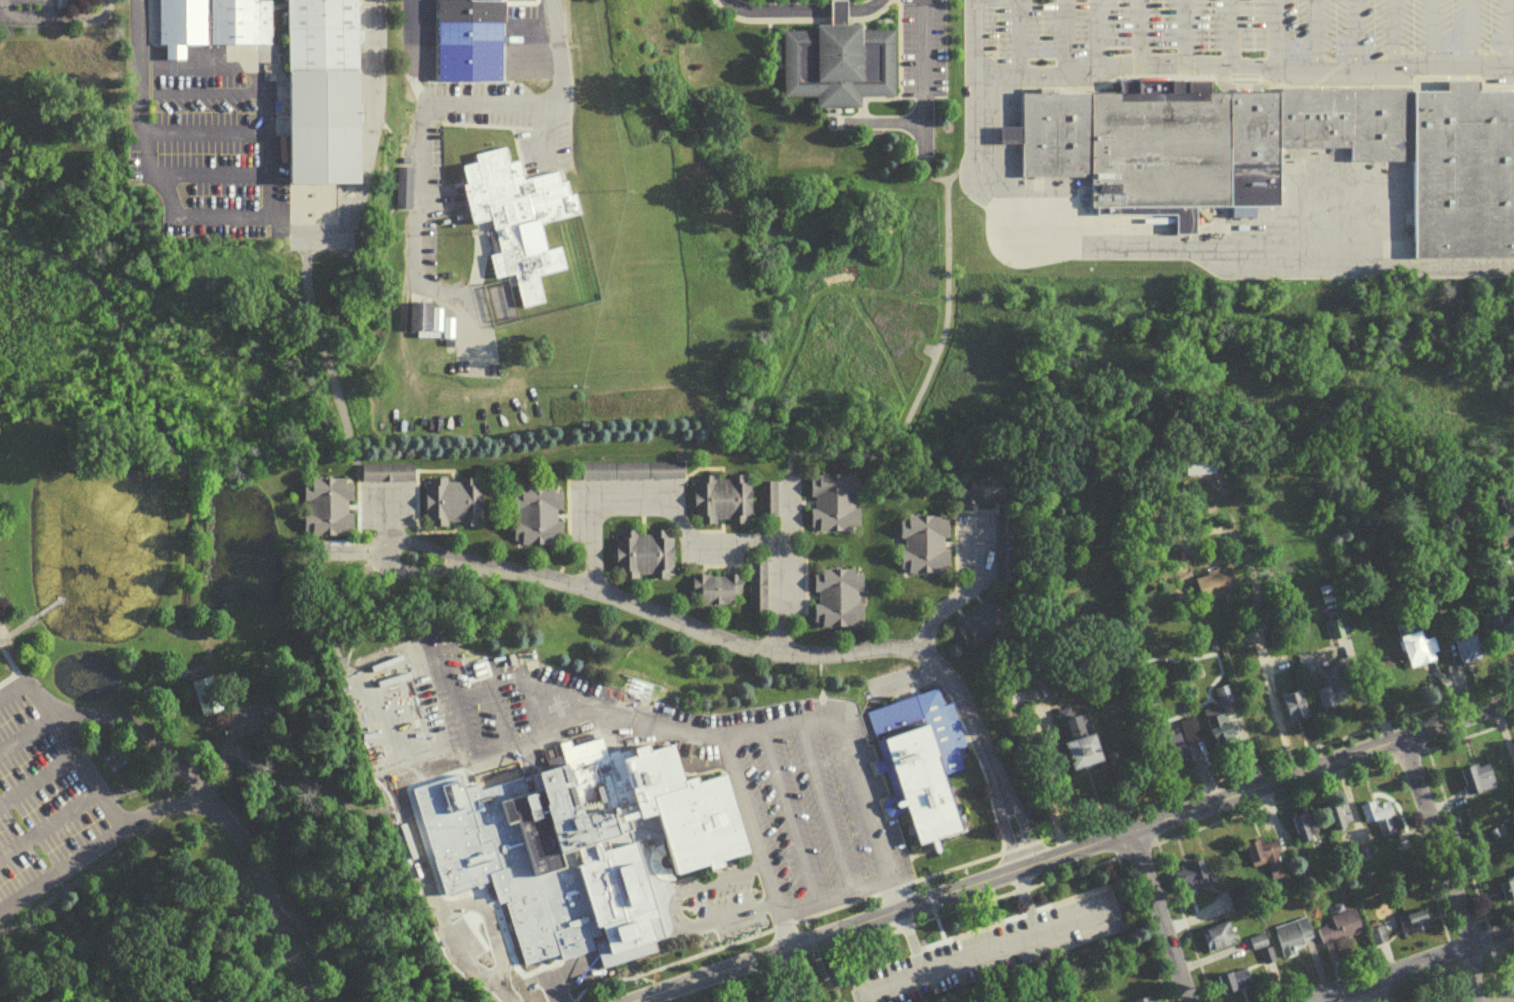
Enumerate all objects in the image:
road: (803, 6)
road: (372, 14)
road: (30, 17)
road: (80, 17)
road: (414, 20)
building: (466, 22)
building: (211, 23)
road: (136, 32)
parking lot: (1244, 32)
road: (1133, 33)
road: (1177, 33)
road: (1224, 33)
road: (1268, 33)
road: (1308, 33)
road: (1348, 34)
road: (1386, 34)
road: (1425, 34)
road: (1463, 34)
road: (1503, 36)
road: (1089, 37)
road: (1012, 38)
road: (1057, 38)
building: (835, 58)
road: (924, 64)
road: (1240, 67)
flagpole: (1105, 85)
road: (1239, 87)
building: (325, 92)
road: (499, 102)
road: (202, 131)
building: (1276, 148)
road: (210, 174)
road: (266, 198)
building: (517, 223)
road: (1141, 242)
building: (422, 323)
building: (635, 476)
building: (389, 478)
building: (985, 492)
building: (724, 505)
building: (769, 505)
building: (454, 507)
building: (836, 508)
building: (329, 512)
building: (538, 521)
road: (687, 536)
building: (1506, 541)
building: (926, 550)
building: (645, 561)
building: (1216, 590)
road: (976, 592)
building: (718, 595)
building: (839, 603)
road: (35, 624)
building: (981, 630)
park: (148, 636)
building: (1511, 636)
road: (3, 639)
road: (3, 646)
road: (767, 649)
building: (1419, 654)
building: (1468, 654)
road: (16, 675)
building: (1335, 693)
building: (205, 695)
building: (1224, 700)
road: (1274, 704)
building: (1017, 706)
helipad: (558, 712)
building: (1296, 713)
road: (135, 730)
building: (1219, 731)
building: (1185, 737)
road: (736, 740)
building: (1081, 745)
road: (67, 754)
building: (915, 759)
building: (1479, 785)
parking lot: (44, 808)
road: (825, 809)
road: (787, 819)
building: (1339, 820)
building: (1378, 820)
road: (751, 829)
building: (1305, 831)
building: (601, 850)
road: (1083, 853)
road: (246, 858)
building: (1266, 861)
road: (1443, 870)
road: (61, 874)
building: (1191, 881)
road: (477, 888)
building: (1507, 890)
road: (817, 902)
road: (667, 912)
road: (1159, 920)
building: (1415, 927)
road: (783, 931)
building: (1340, 932)
building: (1292, 940)
building: (1218, 941)
building: (1259, 946)
road: (1407, 966)
building: (1237, 985)
building: (1150, 1001)

